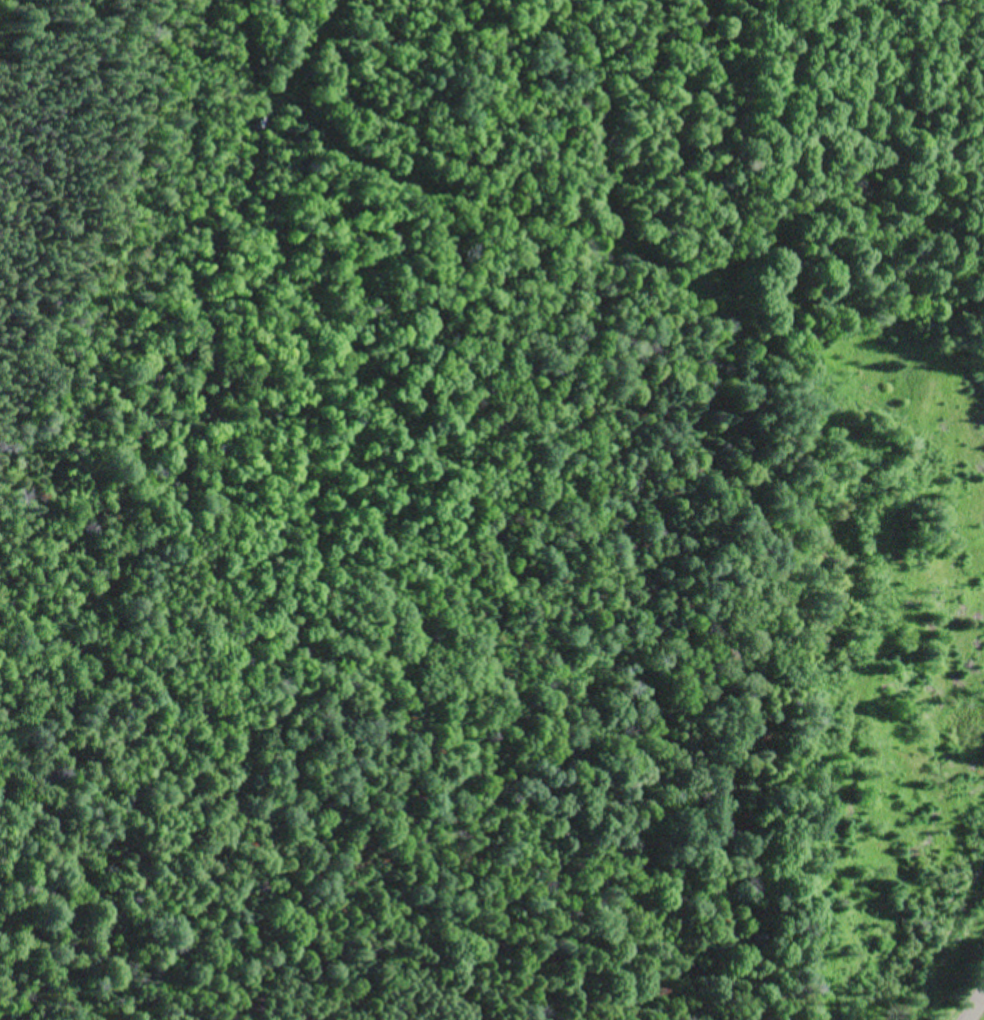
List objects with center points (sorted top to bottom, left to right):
road: (977, 1009)

